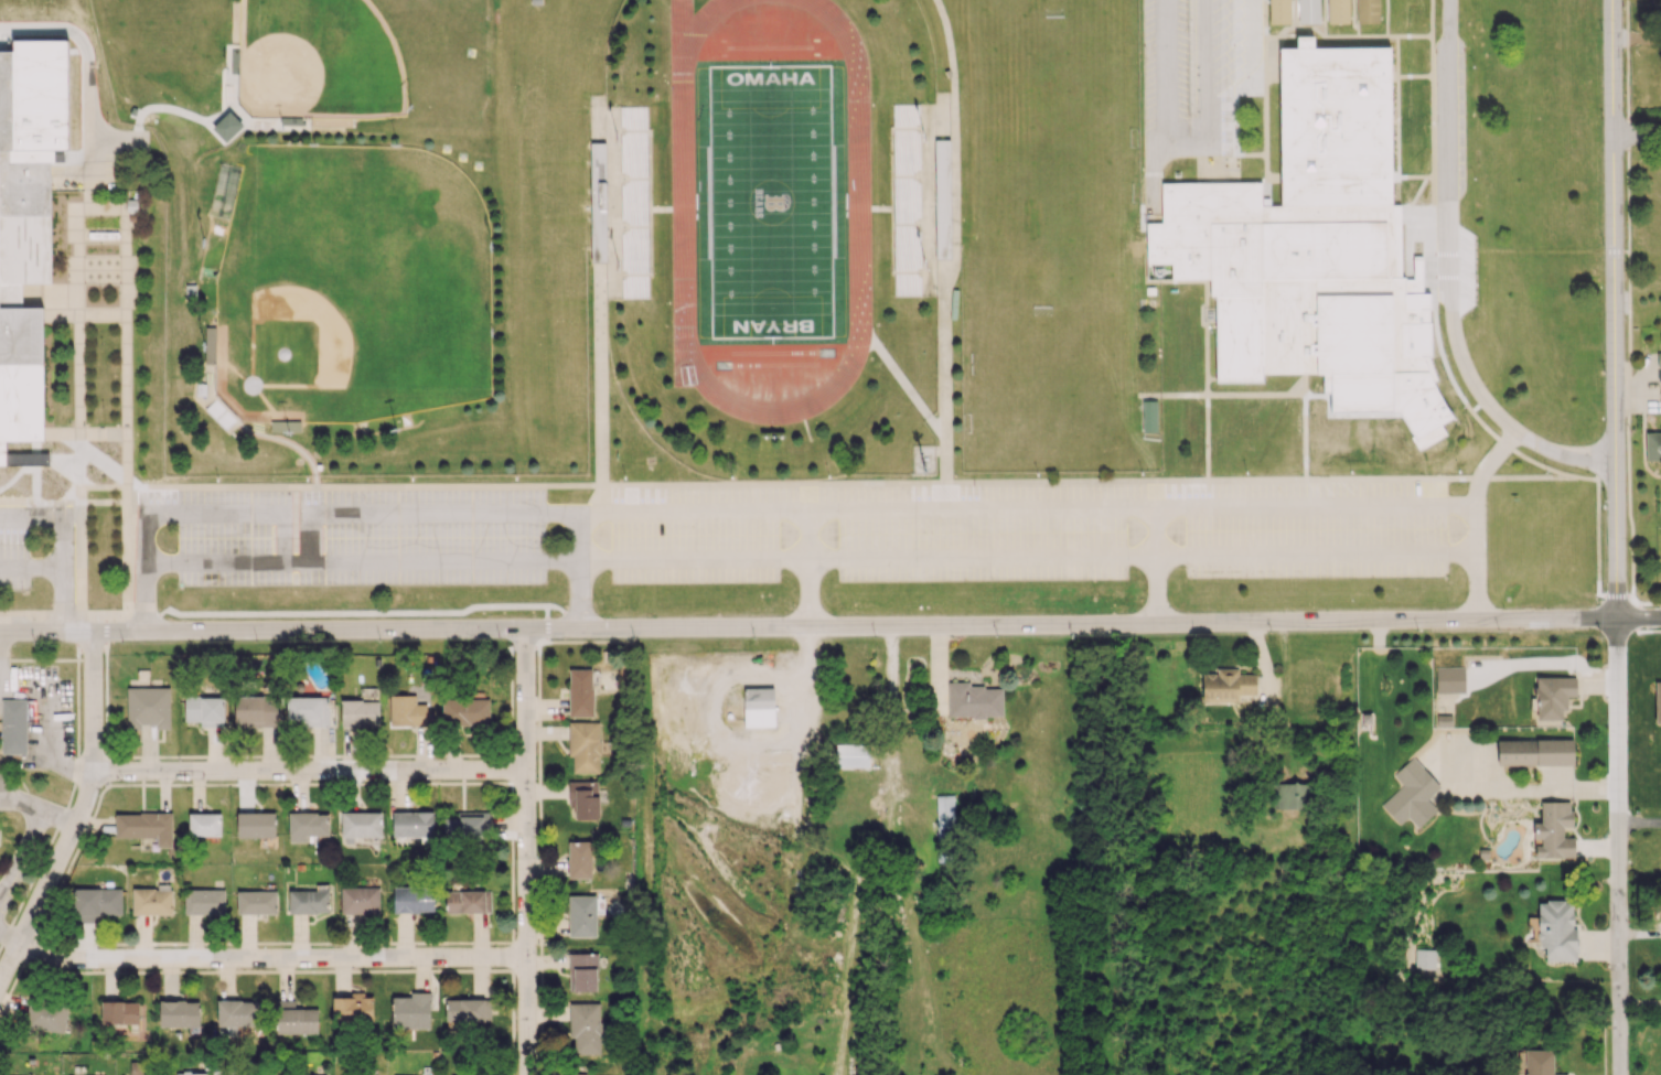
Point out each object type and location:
building: (536, 3)
building: (1279, 11)
building: (1368, 11)
building: (1309, 12)
building: (1339, 12)
road: (1449, 18)
park: (179, 33)
road: (770, 49)
building: (62, 61)
building: (31, 62)
road: (86, 63)
parking lot: (1187, 77)
building: (63, 97)
building: (32, 98)
park: (448, 118)
road: (1449, 119)
building: (226, 126)
building: (63, 131)
building: (30, 132)
road: (1637, 138)
parking lot: (1448, 148)
road: (1189, 150)
park: (1052, 196)
building: (942, 197)
park: (1644, 198)
track: (857, 200)
park: (769, 201)
building: (907, 202)
building: (598, 203)
building: (635, 204)
building: (131, 205)
building: (1299, 232)
building: (21, 282)
park: (352, 287)
building: (191, 292)
road: (1615, 309)
building: (210, 344)
road: (779, 354)
building: (1659, 359)
road: (772, 366)
building: (1659, 374)
road: (1469, 378)
road: (947, 391)
building: (202, 393)
road: (600, 394)
park: (1055, 396)
building: (221, 416)
building: (1148, 417)
building: (285, 426)
building: (1652, 445)
building: (1167, 454)
building: (319, 469)
parking lot: (1660, 493)
road: (1315, 507)
road: (878, 509)
road: (1052, 509)
road: (694, 510)
road: (243, 515)
road: (420, 515)
road: (25, 517)
road: (1476, 519)
parking lot: (694, 535)
parking lot: (356, 536)
parking lot: (982, 544)
parking lot: (15, 555)
road: (1317, 557)
road: (983, 560)
road: (694, 563)
road: (361, 565)
road: (33, 567)
road: (1157, 567)
road: (808, 569)
road: (142, 570)
road: (66, 571)
road: (580, 571)
road: (1639, 617)
road: (808, 627)
building: (1449, 679)
building: (1226, 686)
building: (580, 691)
building: (1553, 696)
building: (973, 700)
building: (1658, 701)
building: (148, 707)
building: (758, 707)
building: (204, 710)
building: (255, 710)
building: (304, 710)
building: (406, 711)
building: (464, 711)
building: (360, 712)
road: (889, 712)
building: (12, 725)
road: (51, 725)
building: (583, 746)
building: (1534, 752)
building: (850, 755)
road: (311, 774)
road: (1526, 792)
building: (1411, 794)
building: (1292, 795)
building: (583, 799)
road: (77, 816)
building: (944, 816)
road: (36, 819)
building: (360, 824)
building: (411, 824)
building: (204, 825)
building: (255, 825)
building: (307, 826)
building: (463, 826)
road: (1640, 826)
building: (146, 827)
building: (1553, 831)
road: (1619, 847)
road: (531, 851)
building: (579, 859)
road: (22, 863)
building: (412, 899)
building: (151, 900)
building: (309, 900)
building: (358, 900)
building: (96, 901)
building: (204, 901)
building: (467, 901)
building: (256, 902)
building: (581, 915)
building: (1556, 929)
road: (10, 935)
building: (1425, 958)
road: (274, 961)
building: (582, 971)
building: (352, 1008)
building: (467, 1009)
building: (410, 1011)
building: (119, 1012)
building: (237, 1012)
building: (178, 1013)
building: (46, 1015)
building: (294, 1019)
building: (586, 1026)
building: (1534, 1061)
building: (193, 1073)
building: (266, 1074)
building: (292, 1074)
building: (576, 1074)

